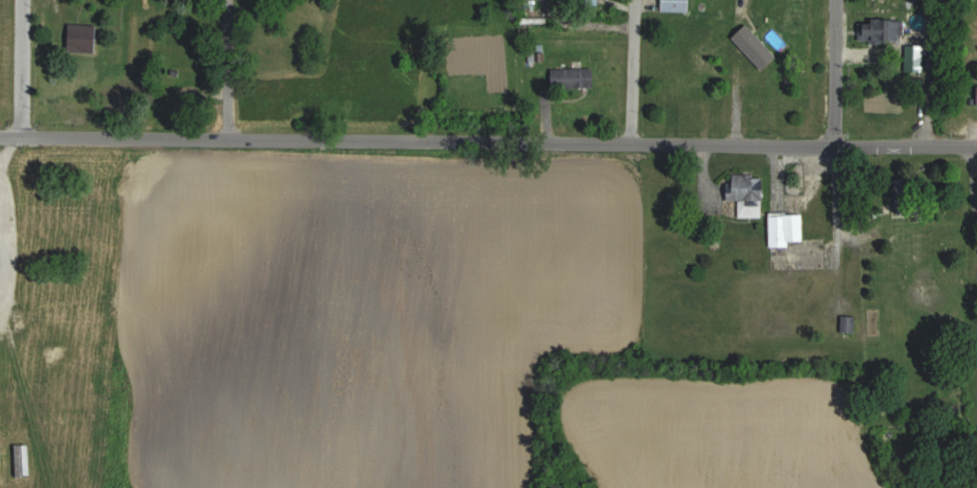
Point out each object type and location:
building: (678, 5)
building: (811, 7)
building: (775, 23)
building: (882, 29)
building: (84, 37)
building: (774, 66)
road: (25, 67)
road: (229, 69)
road: (633, 71)
road: (741, 71)
road: (838, 72)
building: (573, 78)
building: (691, 84)
road: (419, 138)
road: (908, 145)
road: (975, 172)
building: (749, 194)
road: (838, 200)
building: (788, 228)

